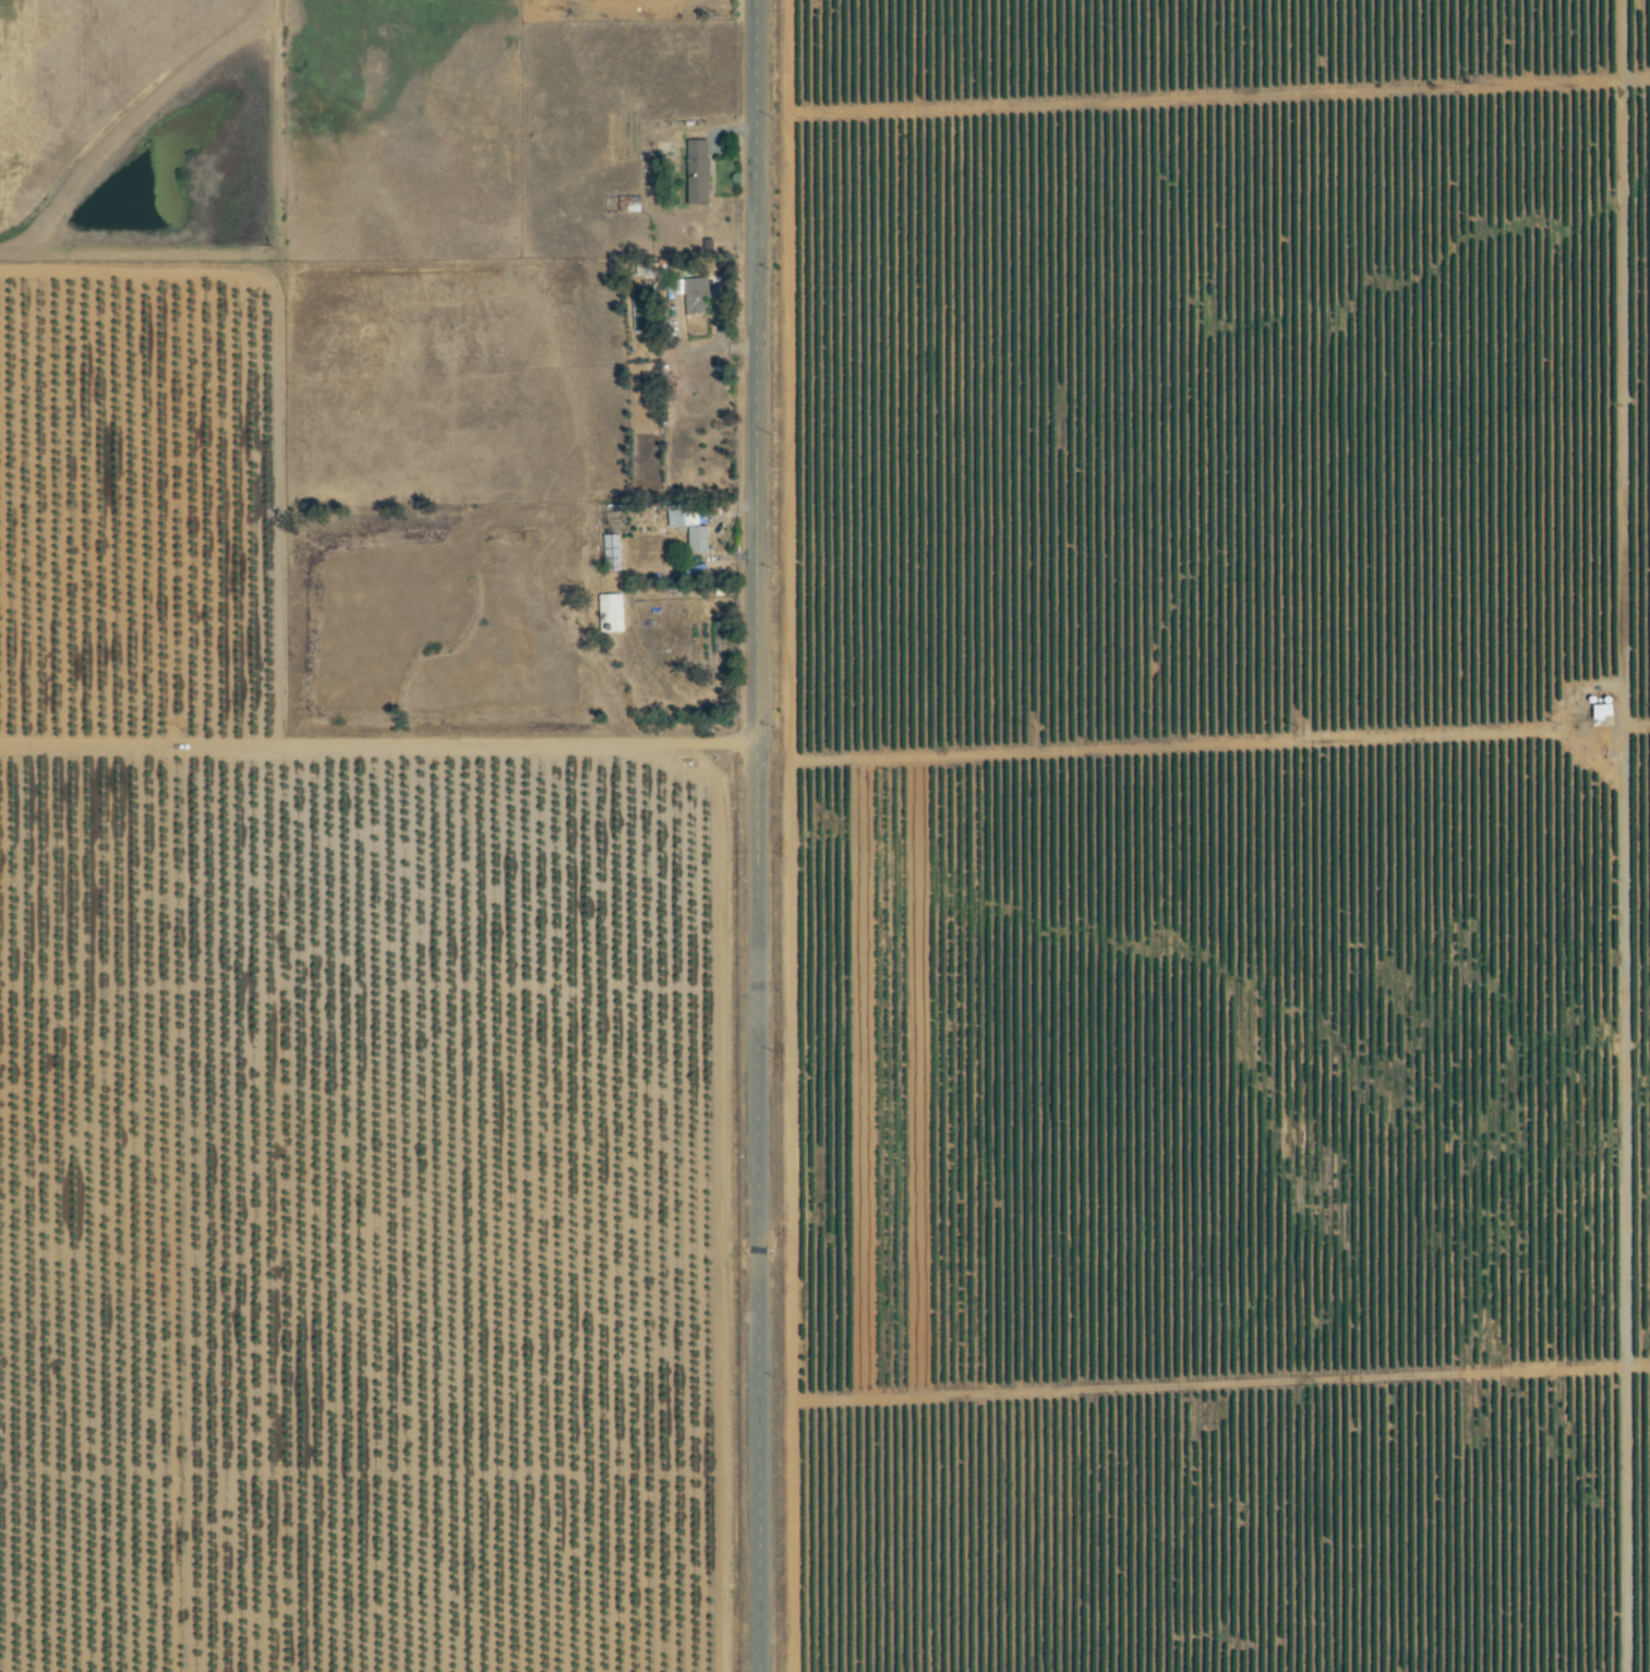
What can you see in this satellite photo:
building: (699, 173)
building: (696, 296)
road: (378, 746)
road: (758, 835)
crop: (1050, 960)

